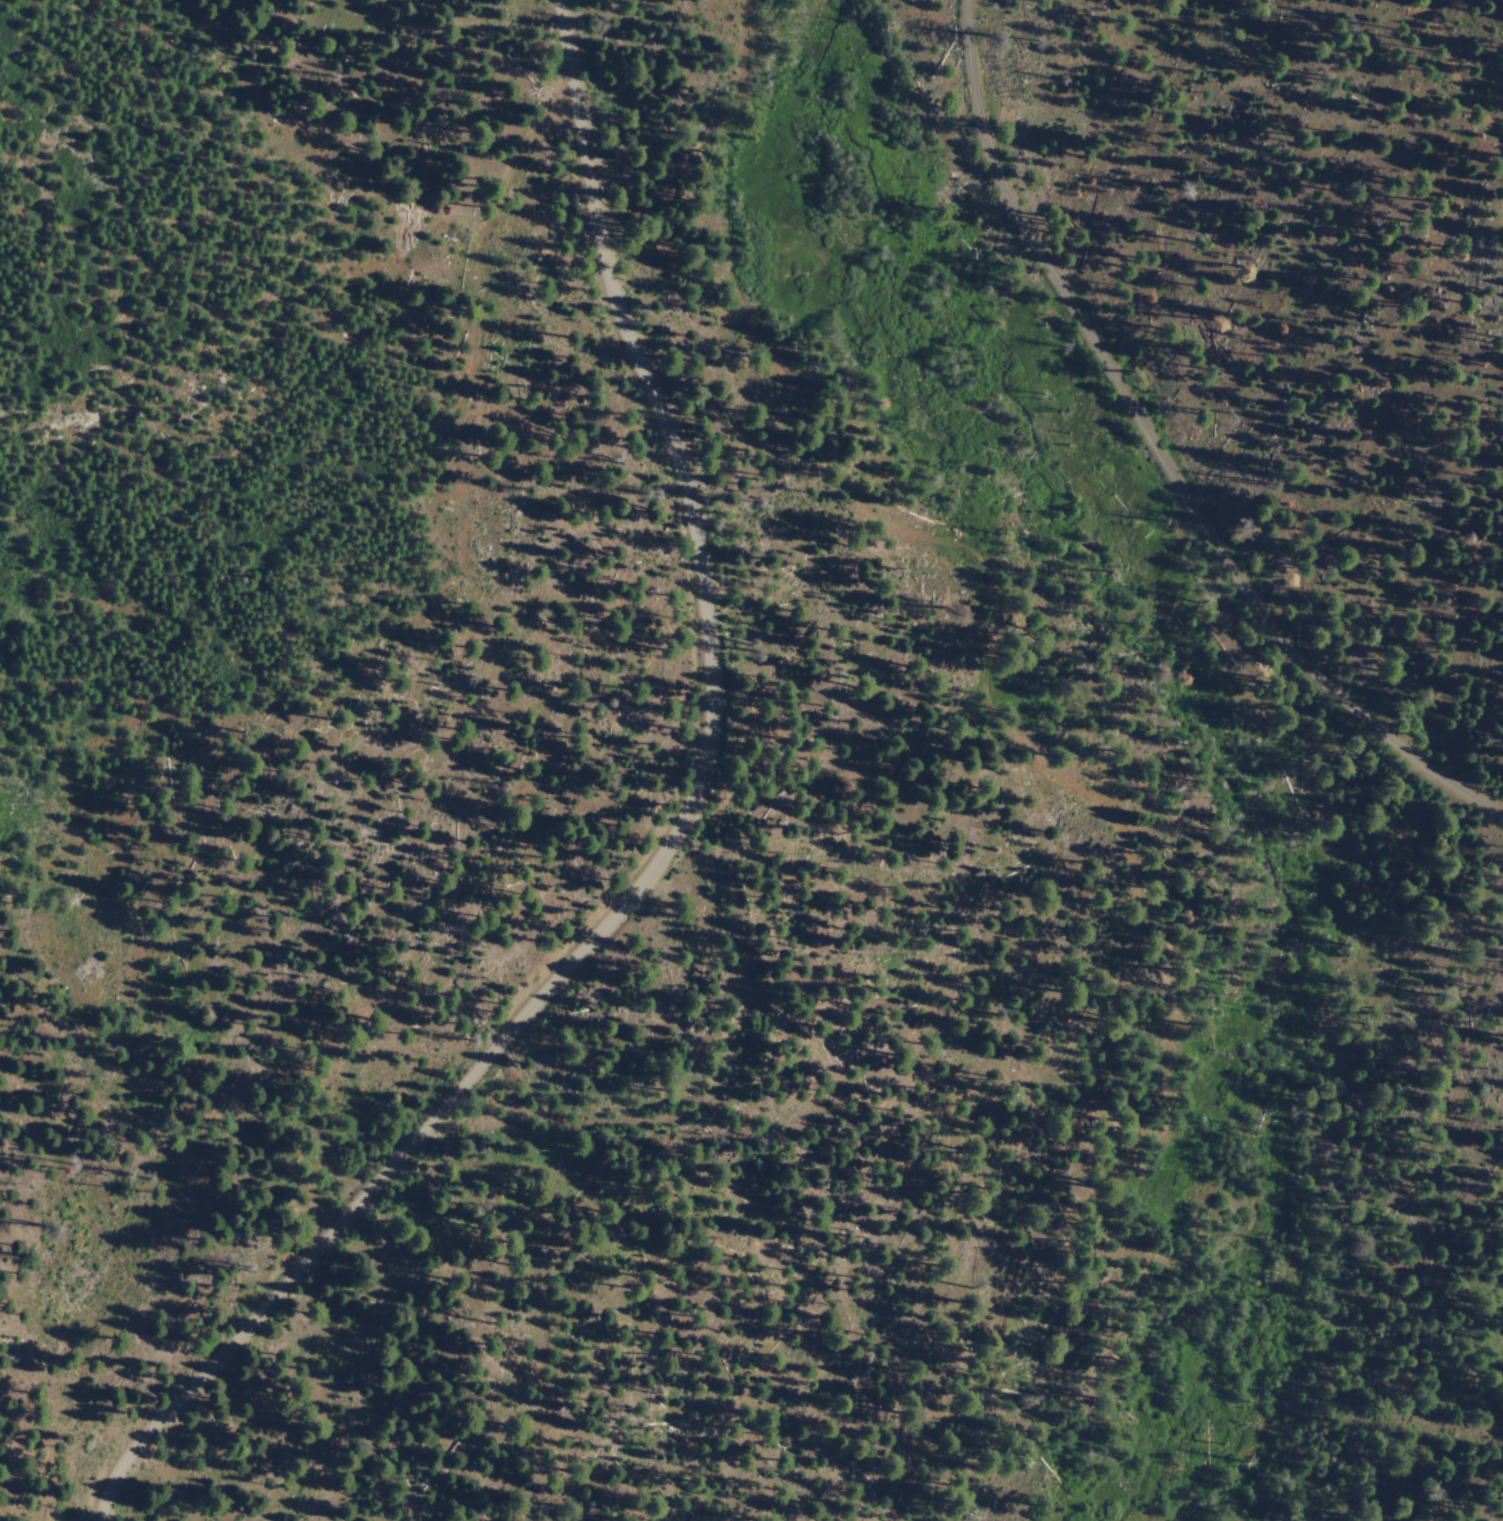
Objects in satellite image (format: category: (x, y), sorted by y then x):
road: (1162, 455)
road: (660, 847)
road: (1008, 1078)

